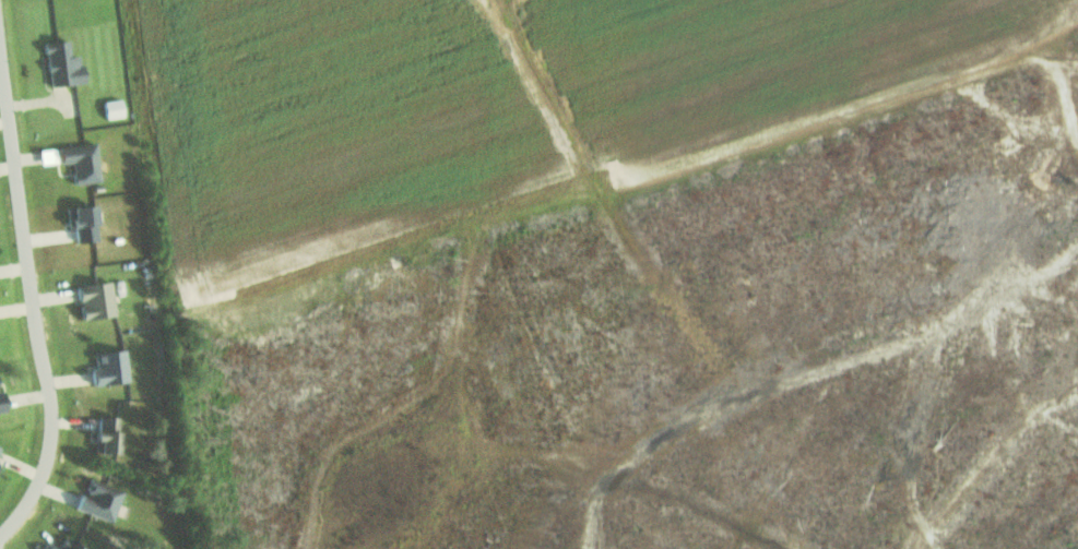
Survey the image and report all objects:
building: (63, 65)
building: (114, 109)
building: (82, 163)
building: (83, 224)
building: (96, 301)
road: (33, 305)
building: (111, 369)
building: (2, 403)
building: (108, 435)
building: (0, 446)
building: (100, 499)

